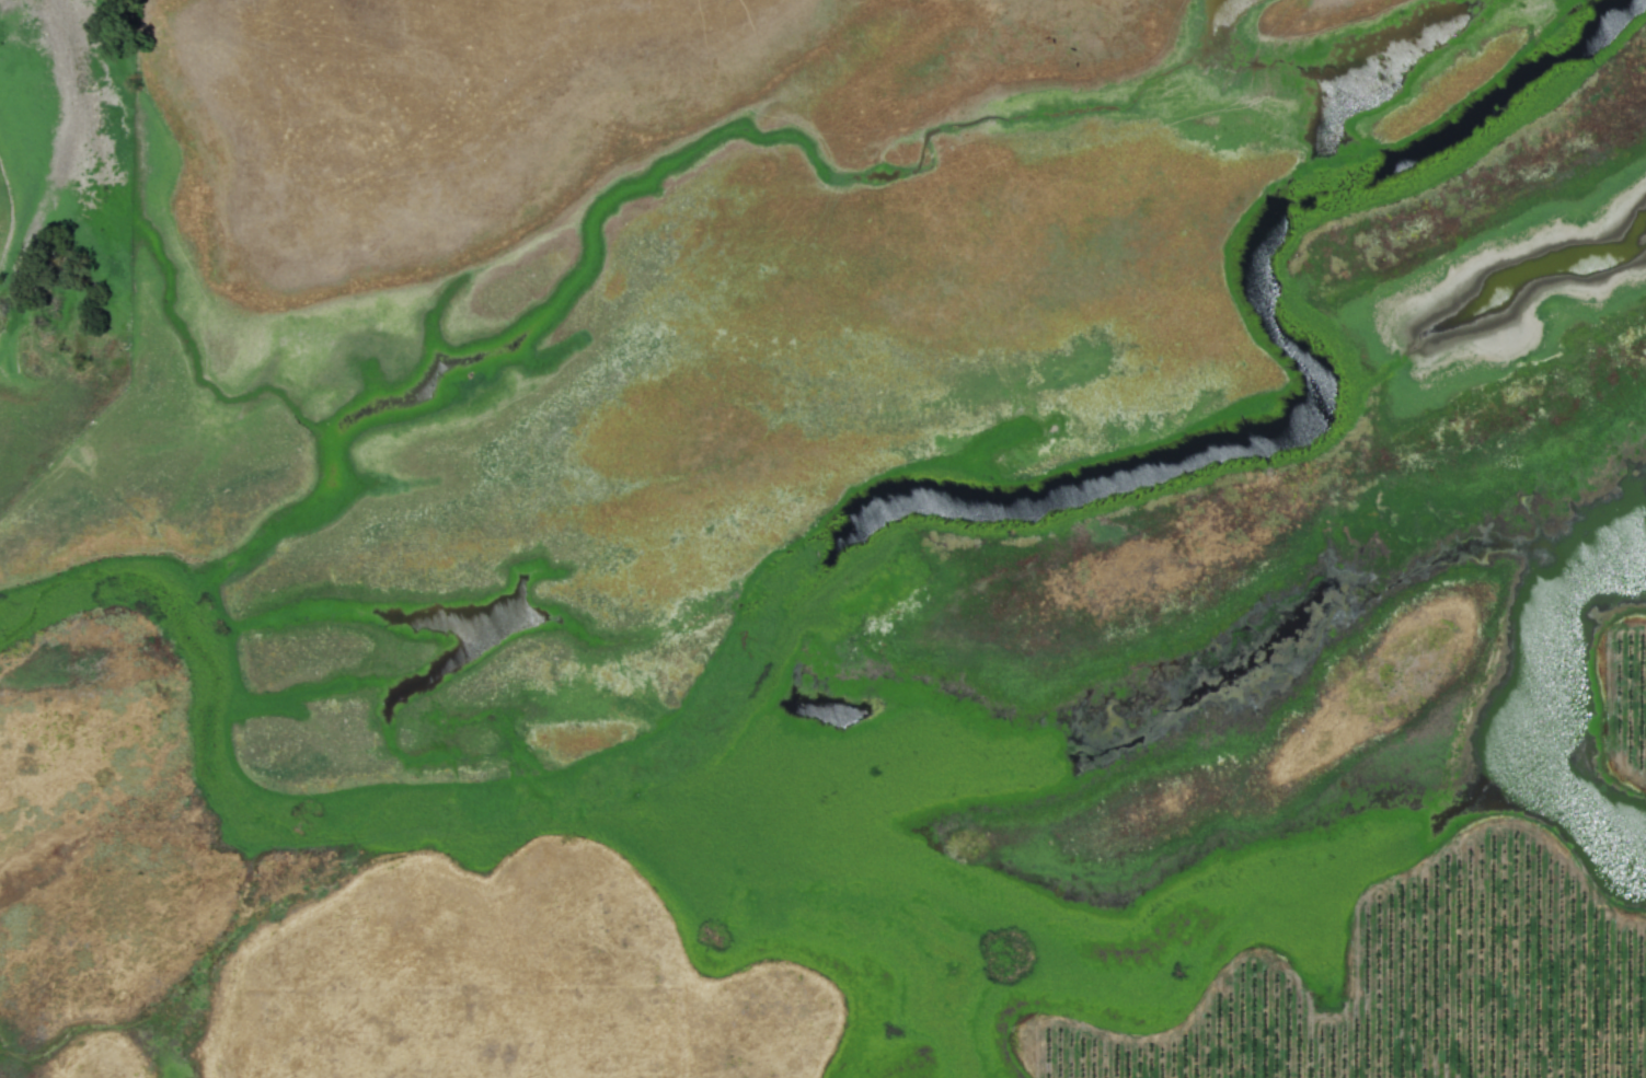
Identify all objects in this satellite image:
crop: (42, 294)

